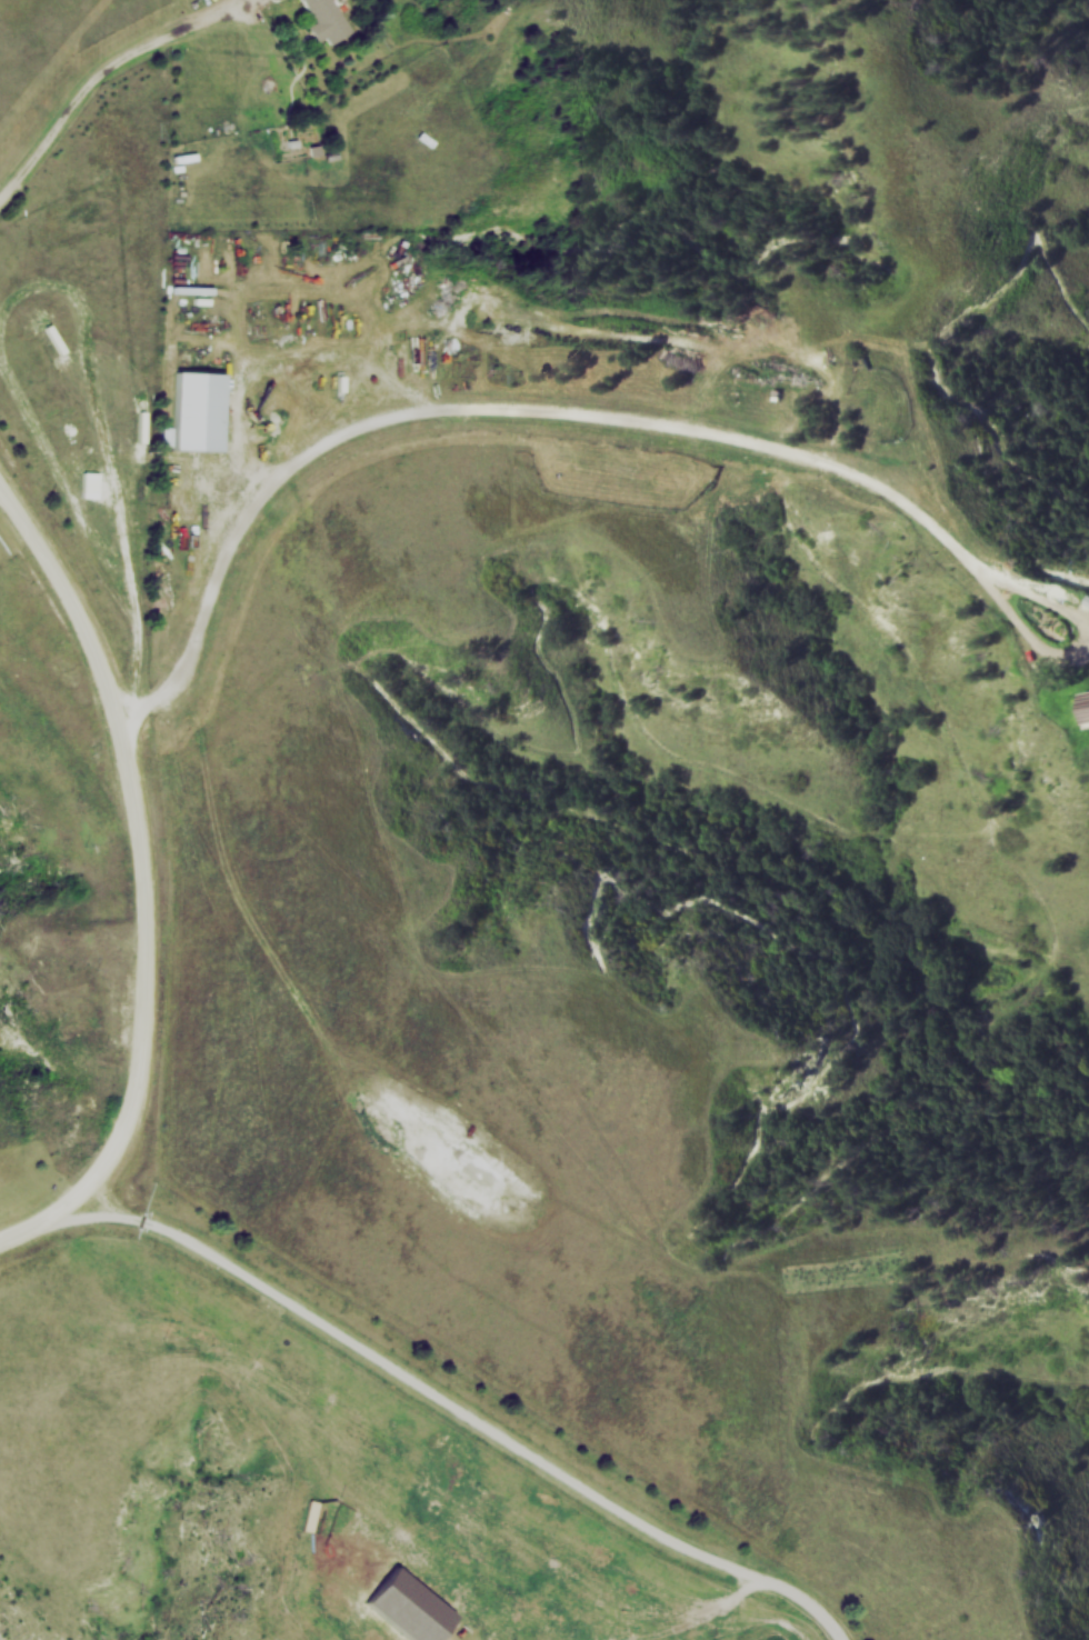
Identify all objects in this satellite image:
building: (326, 21)
road: (102, 73)
building: (198, 410)
road: (498, 411)
road: (1039, 656)
building: (1086, 703)
road: (136, 892)
road: (462, 1420)

